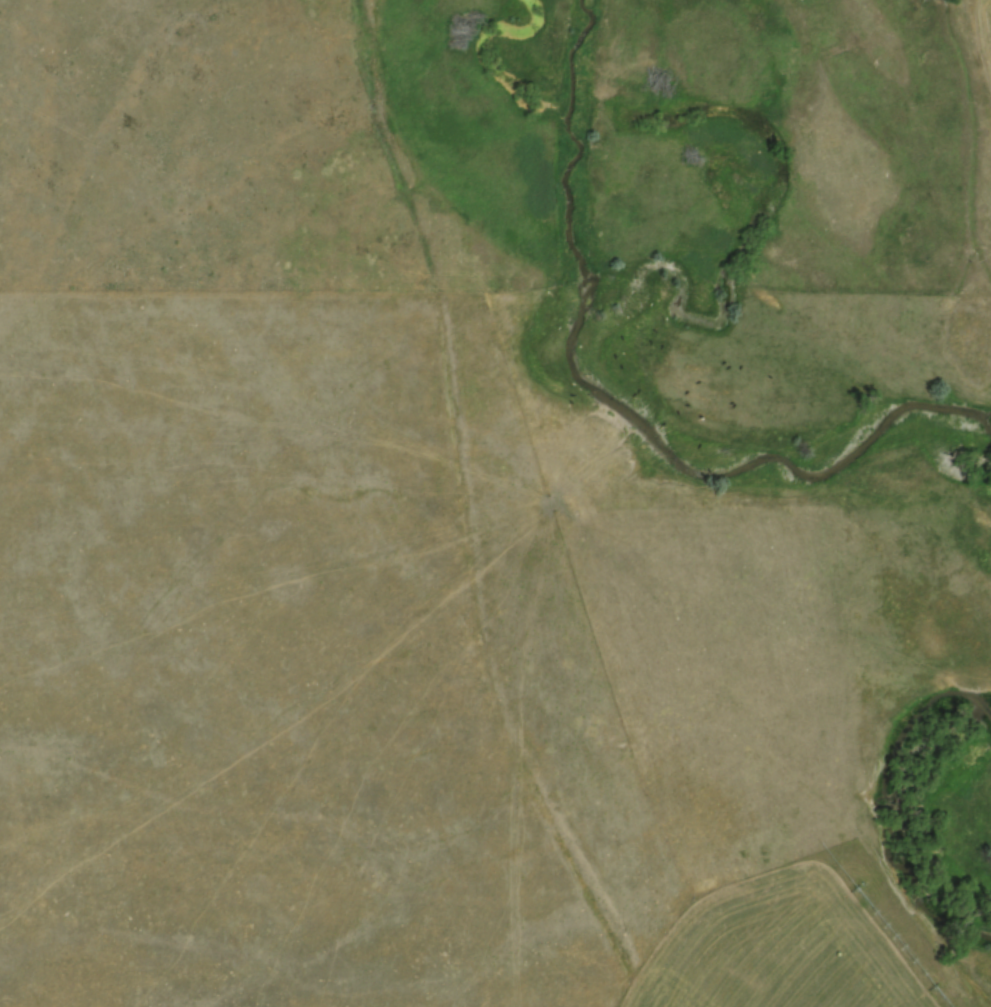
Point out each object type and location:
crop: (984, 34)
crop: (745, 755)

